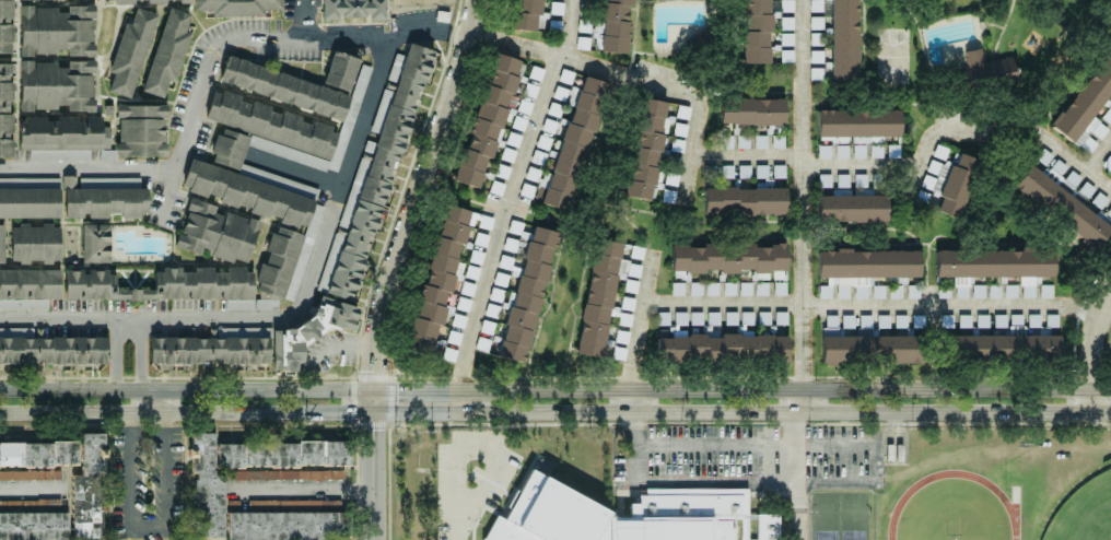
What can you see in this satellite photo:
building: (120, 1)
building: (168, 1)
building: (786, 5)
building: (237, 7)
building: (557, 8)
building: (354, 9)
building: (527, 14)
road: (309, 16)
building: (786, 23)
building: (5, 26)
road: (574, 26)
building: (609, 26)
building: (57, 31)
building: (757, 31)
road: (256, 38)
building: (787, 39)
building: (844, 40)
building: (583, 43)
road: (521, 44)
building: (130, 52)
building: (167, 52)
building: (816, 56)
building: (984, 69)
building: (340, 71)
building: (536, 73)
building: (565, 77)
building: (57, 85)
building: (284, 89)
building: (529, 90)
road: (683, 90)
building: (560, 93)
building: (524, 106)
building: (1088, 108)
building: (7, 109)
building: (682, 111)
building: (751, 111)
building: (489, 118)
building: (518, 122)
building: (858, 122)
building: (549, 126)
building: (289, 128)
building: (141, 130)
building: (680, 130)
building: (65, 134)
building: (513, 139)
building: (760, 141)
building: (543, 142)
building: (742, 142)
building: (777, 142)
building: (573, 145)
building: (230, 148)
building: (647, 149)
building: (823, 151)
building: (60, 154)
building: (507, 154)
road: (92, 156)
building: (1043, 156)
building: (538, 157)
road: (1102, 160)
road: (913, 164)
building: (1108, 165)
building: (710, 172)
building: (744, 172)
building: (761, 172)
building: (779, 172)
building: (533, 174)
road: (291, 179)
road: (909, 179)
building: (372, 180)
building: (825, 180)
building: (495, 188)
building: (527, 190)
road: (421, 193)
building: (77, 199)
building: (744, 201)
building: (1061, 207)
building: (852, 208)
road: (512, 219)
building: (486, 222)
building: (518, 230)
building: (217, 233)
building: (481, 239)
building: (1, 244)
building: (35, 244)
building: (95, 244)
building: (290, 244)
building: (510, 245)
building: (476, 257)
building: (728, 258)
building: (866, 266)
building: (996, 266)
building: (628, 269)
road: (804, 270)
building: (471, 272)
building: (440, 274)
building: (501, 279)
building: (780, 283)
building: (168, 285)
building: (28, 287)
building: (467, 289)
building: (695, 289)
building: (711, 289)
building: (729, 289)
building: (745, 289)
building: (761, 289)
building: (677, 290)
building: (527, 294)
building: (495, 295)
building: (598, 297)
building: (463, 305)
road: (872, 307)
building: (492, 310)
building: (746, 317)
road: (292, 318)
building: (695, 318)
building: (730, 318)
building: (624, 319)
building: (458, 320)
building: (982, 321)
building: (487, 327)
road: (638, 329)
building: (309, 332)
building: (454, 337)
building: (621, 337)
building: (482, 343)
building: (1004, 347)
building: (215, 348)
building: (724, 348)
building: (52, 350)
road: (1094, 350)
building: (449, 354)
road: (121, 355)
road: (149, 356)
traffic signals: (376, 369)
road: (775, 388)
traffic signals: (398, 389)
road: (407, 389)
road: (74, 391)
road: (261, 391)
road: (373, 401)
road: (186, 411)
road: (741, 411)
traffic signals: (347, 413)
traffic signals: (374, 430)
road: (633, 443)
road: (751, 443)
road: (869, 459)
road: (751, 473)
building: (288, 474)
road: (375, 476)
road: (21, 482)
road: (309, 491)
track: (898, 506)
building: (206, 507)
building: (86, 508)
park: (1084, 512)
building: (613, 516)
road: (160, 523)
building: (285, 526)
building: (32, 527)

